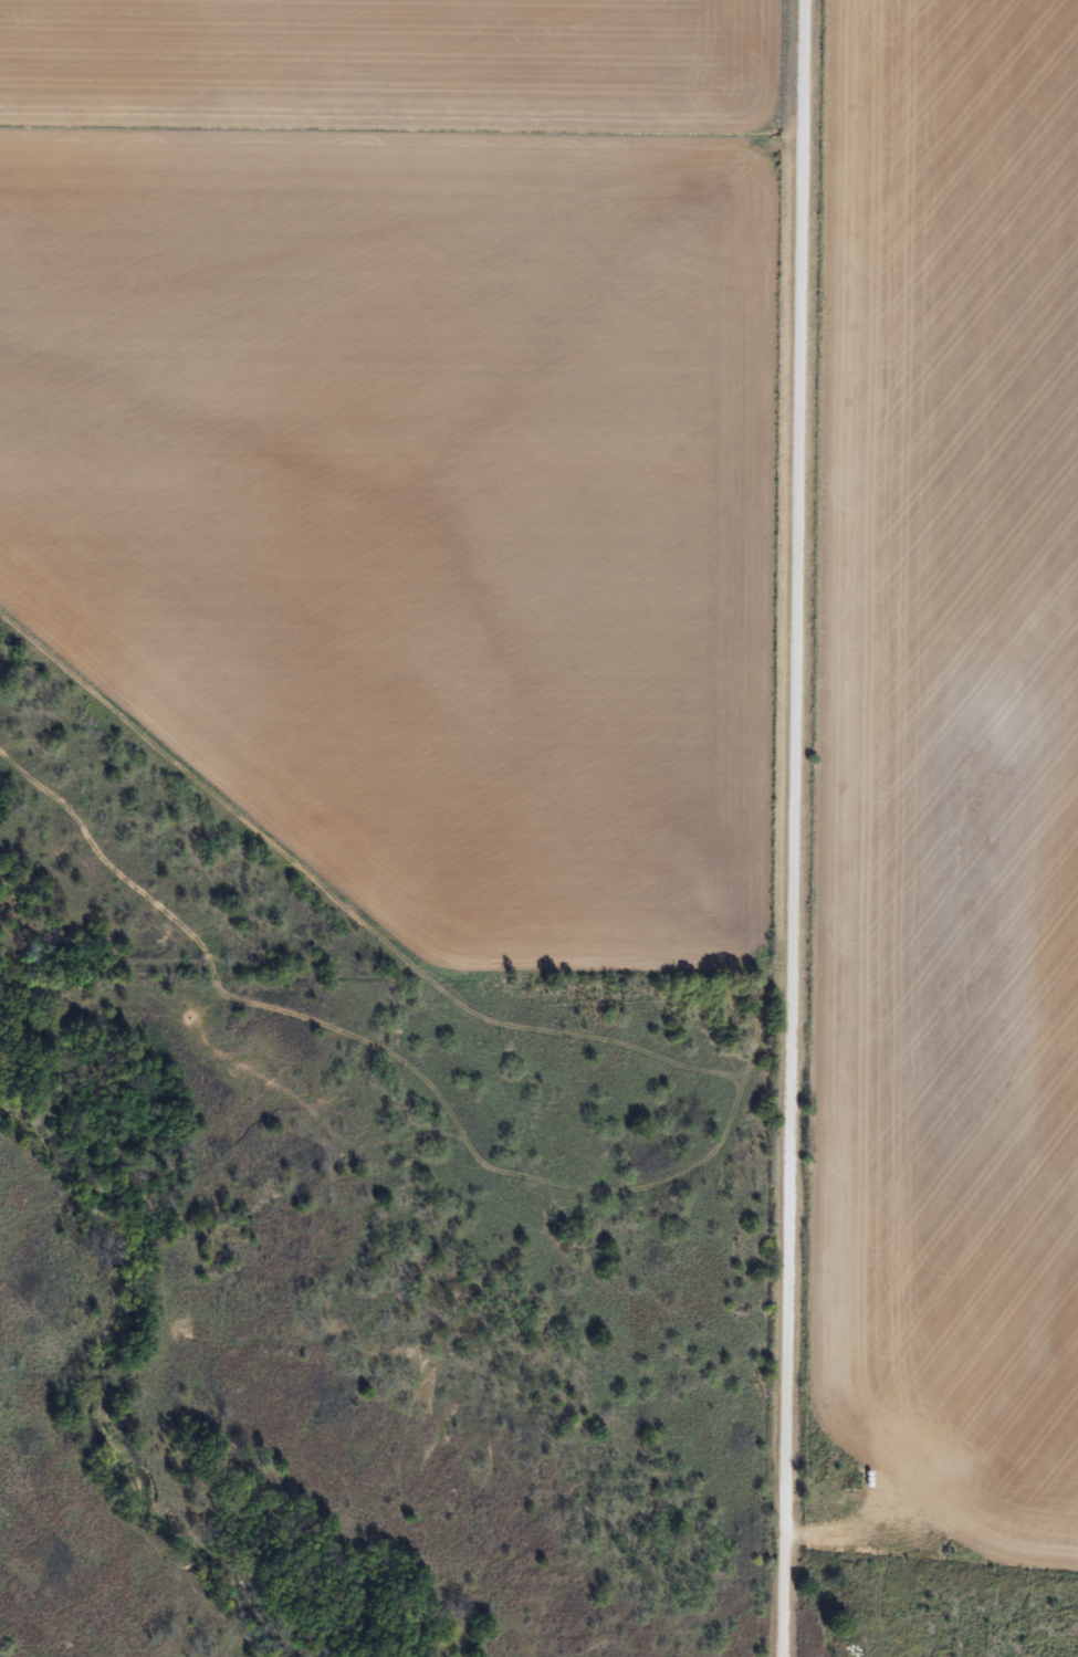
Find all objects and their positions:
road: (798, 828)

